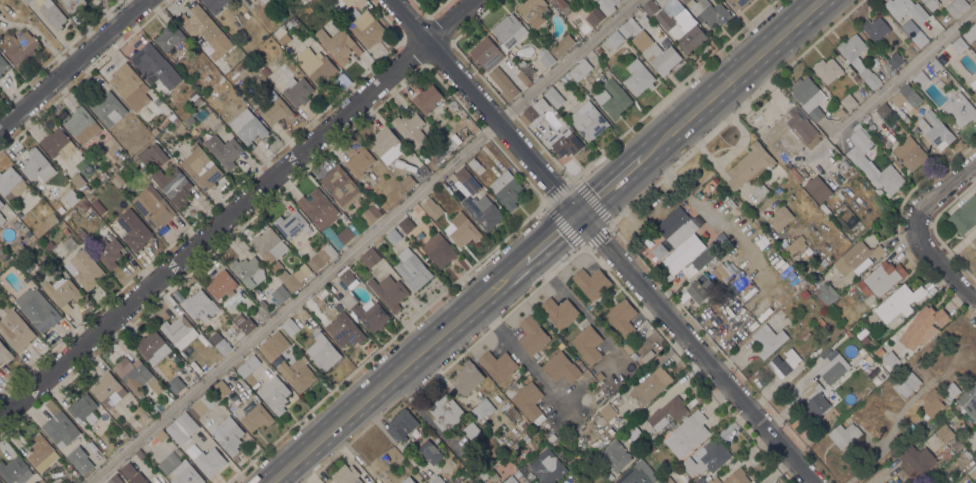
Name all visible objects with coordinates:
building: (267, 0)
building: (26, 1)
building: (263, 1)
building: (304, 1)
building: (737, 3)
building: (74, 4)
building: (932, 4)
building: (215, 5)
building: (607, 5)
building: (563, 6)
building: (956, 6)
building: (650, 7)
building: (906, 9)
building: (307, 11)
building: (533, 11)
building: (710, 12)
building: (52, 14)
building: (246, 15)
building: (240, 17)
building: (595, 17)
building: (360, 22)
building: (628, 27)
building: (875, 27)
building: (910, 27)
building: (205, 28)
building: (682, 29)
building: (509, 31)
building: (970, 33)
building: (169, 36)
building: (919, 38)
building: (613, 40)
building: (338, 44)
building: (959, 44)
building: (562, 45)
building: (20, 46)
building: (852, 47)
building: (599, 49)
building: (486, 53)
building: (662, 57)
building: (547, 59)
building: (896, 59)
building: (227, 60)
building: (245, 61)
building: (521, 62)
building: (874, 62)
road: (72, 63)
building: (4, 64)
building: (316, 65)
building: (155, 66)
building: (239, 66)
building: (223, 67)
building: (580, 69)
building: (828, 69)
building: (266, 71)
road: (902, 72)
building: (218, 74)
building: (868, 75)
building: (932, 75)
building: (1, 76)
building: (524, 77)
building: (565, 77)
building: (639, 77)
building: (207, 78)
road: (729, 78)
building: (855, 78)
building: (504, 83)
building: (973, 84)
building: (130, 86)
building: (214, 88)
building: (298, 90)
building: (554, 96)
building: (809, 96)
building: (906, 96)
building: (427, 98)
building: (613, 98)
building: (848, 101)
building: (158, 102)
building: (106, 106)
building: (960, 107)
building: (275, 108)
building: (884, 111)
building: (193, 112)
building: (533, 112)
building: (838, 113)
building: (189, 120)
building: (589, 121)
building: (176, 122)
building: (82, 124)
building: (247, 125)
building: (410, 129)
building: (935, 129)
building: (155, 131)
building: (433, 133)
building: (790, 138)
building: (862, 139)
building: (564, 141)
building: (58, 144)
building: (386, 144)
building: (224, 150)
building: (116, 153)
building: (910, 153)
building: (153, 154)
building: (360, 161)
building: (473, 163)
building: (845, 163)
building: (897, 163)
building: (38, 165)
building: (749, 165)
building: (480, 169)
building: (204, 171)
building: (876, 171)
building: (78, 180)
building: (118, 180)
building: (467, 180)
building: (11, 182)
building: (407, 182)
building: (444, 184)
building: (173, 185)
road: (610, 185)
building: (340, 186)
road: (945, 187)
building: (85, 188)
building: (506, 188)
building: (817, 188)
building: (761, 191)
building: (878, 191)
building: (72, 197)
building: (1, 203)
building: (83, 205)
road: (548, 205)
building: (98, 206)
building: (153, 206)
building: (318, 207)
building: (432, 208)
road: (239, 210)
building: (483, 211)
traffic signals: (578, 213)
building: (690, 213)
building: (371, 214)
building: (964, 216)
building: (780, 217)
building: (2, 218)
building: (51, 219)
building: (292, 224)
building: (406, 224)
building: (63, 227)
building: (134, 229)
building: (462, 229)
building: (678, 229)
building: (24, 230)
building: (709, 231)
building: (346, 234)
building: (393, 236)
road: (551, 237)
road: (602, 241)
building: (974, 241)
road: (356, 242)
building: (36, 244)
building: (49, 244)
building: (269, 244)
building: (795, 245)
building: (438, 250)
building: (107, 251)
building: (974, 251)
building: (2, 252)
building: (370, 257)
building: (856, 257)
building: (320, 258)
building: (699, 262)
road: (940, 263)
building: (84, 268)
building: (412, 268)
building: (248, 270)
building: (724, 270)
building: (347, 277)
building: (292, 278)
building: (881, 278)
building: (591, 282)
building: (222, 284)
building: (701, 286)
building: (811, 286)
building: (322, 291)
building: (389, 291)
building: (63, 292)
building: (280, 293)
building: (804, 293)
building: (826, 293)
building: (177, 295)
road: (572, 299)
building: (899, 303)
building: (199, 305)
building: (265, 307)
building: (339, 307)
building: (38, 309)
building: (559, 311)
building: (371, 316)
building: (622, 316)
building: (820, 321)
building: (246, 322)
building: (922, 325)
building: (290, 326)
building: (176, 328)
building: (15, 330)
building: (344, 330)
building: (848, 333)
building: (532, 334)
building: (860, 334)
building: (768, 339)
building: (865, 340)
building: (587, 343)
building: (222, 345)
building: (274, 345)
building: (152, 346)
road: (517, 347)
building: (628, 347)
building: (639, 350)
building: (879, 351)
building: (323, 352)
building: (5, 353)
building: (634, 355)
building: (644, 359)
building: (891, 359)
building: (865, 361)
building: (783, 363)
building: (498, 364)
building: (247, 365)
building: (561, 367)
building: (833, 369)
road: (397, 371)
building: (297, 373)
building: (137, 376)
building: (466, 377)
building: (175, 384)
building: (907, 384)
building: (650, 386)
building: (220, 388)
building: (108, 389)
building: (950, 391)
building: (274, 394)
building: (148, 398)
building: (815, 399)
building: (528, 400)
building: (969, 401)
building: (204, 402)
building: (931, 403)
building: (83, 408)
building: (481, 408)
building: (139, 409)
building: (153, 409)
building: (607, 411)
building: (446, 412)
building: (511, 412)
building: (667, 412)
building: (256, 417)
building: (401, 424)
building: (523, 425)
building: (182, 427)
building: (975, 427)
building: (60, 429)
building: (471, 429)
building: (632, 431)
building: (945, 432)
building: (228, 434)
building: (687, 434)
building: (844, 434)
building: (161, 435)
building: (525, 437)
building: (957, 444)
building: (91, 445)
building: (430, 451)
building: (41, 452)
building: (140, 454)
building: (615, 455)
building: (706, 458)
building: (80, 459)
building: (915, 459)
building: (209, 461)
building: (547, 466)
building: (665, 466)
building: (15, 470)
building: (185, 473)
building: (133, 474)
building: (346, 474)
building: (482, 474)
building: (636, 475)
building: (459, 476)
building: (610, 476)
building: (732, 477)
building: (115, 479)
building: (408, 480)
building: (437, 480)
building: (510, 480)
building: (667, 480)
building: (702, 480)
building: (0, 482)
building: (164, 482)
building: (371, 482)
building: (528, 482)
building: (692, 482)

